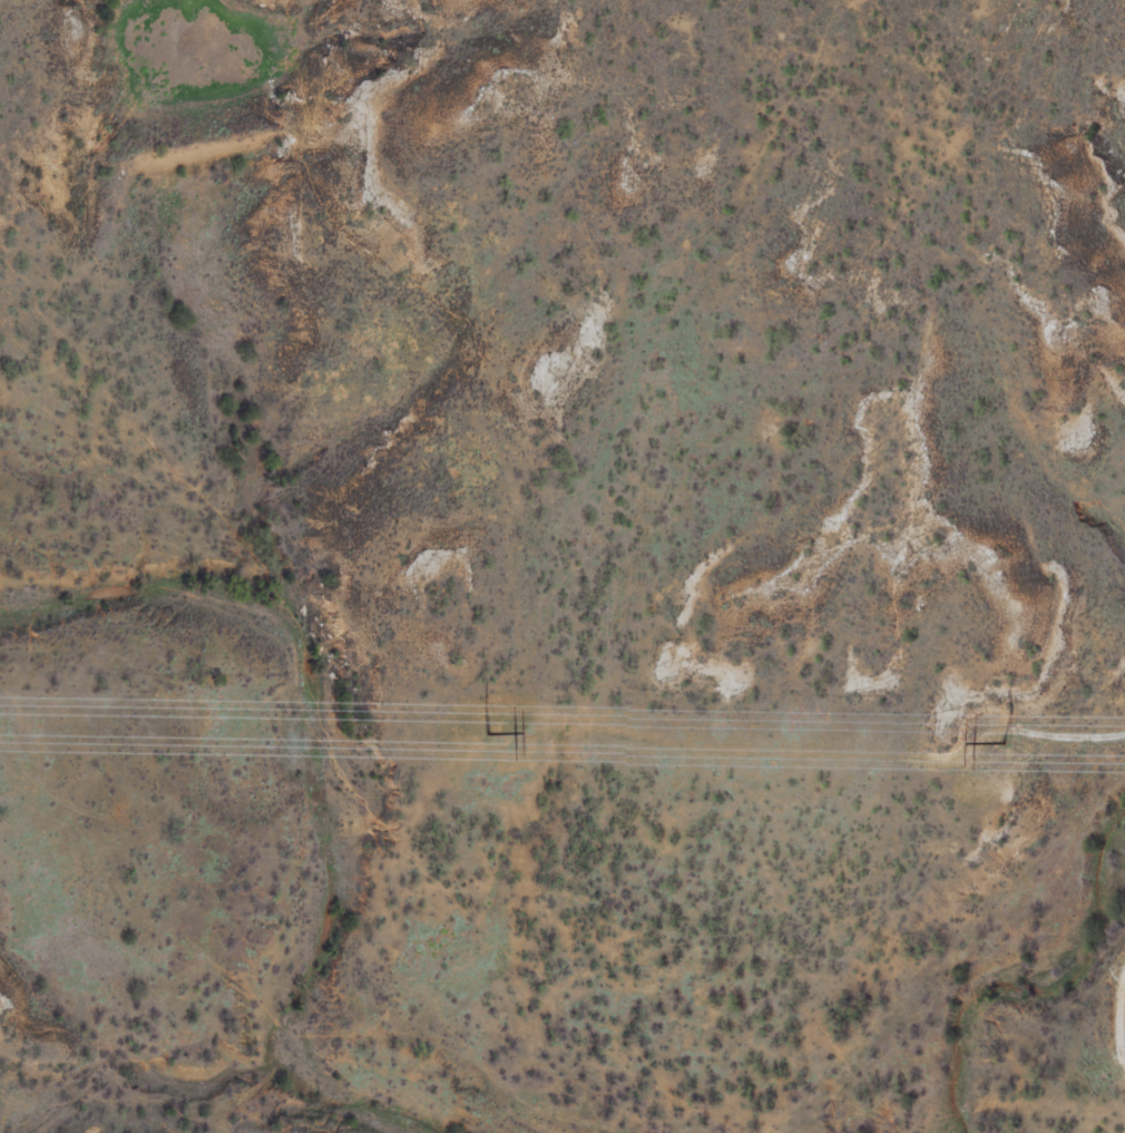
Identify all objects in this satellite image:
power tower: (490, 732)
power tower: (1002, 742)
road: (1115, 1006)

